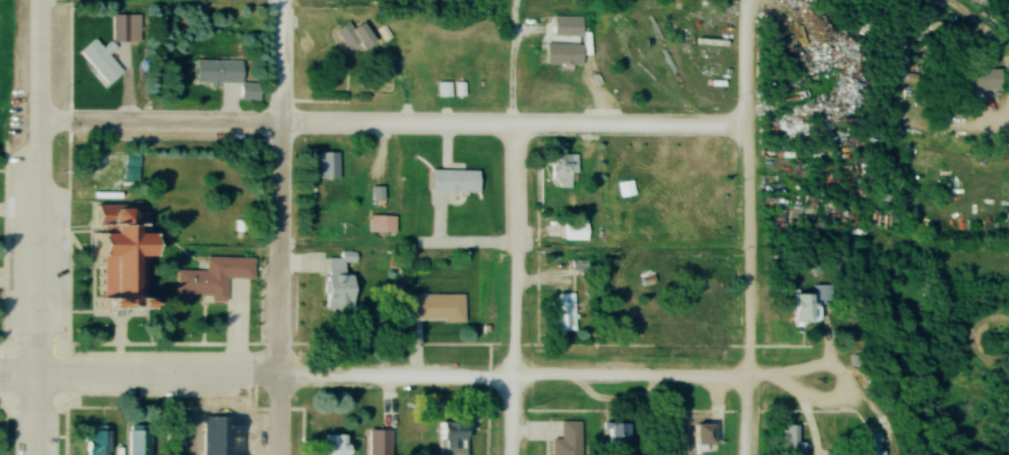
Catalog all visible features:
building: (111, 46)
building: (563, 54)
road: (746, 62)
building: (223, 76)
building: (388, 78)
building: (978, 80)
road: (391, 124)
road: (1005, 136)
building: (326, 166)
building: (560, 172)
building: (453, 181)
building: (384, 224)
road: (36, 227)
road: (278, 227)
building: (565, 231)
road: (630, 254)
building: (124, 255)
building: (211, 278)
building: (339, 283)
road: (747, 289)
road: (512, 290)
building: (809, 304)
building: (434, 308)
building: (563, 312)
building: (625, 313)
building: (700, 316)
road: (429, 378)
road: (17, 381)
building: (706, 433)
building: (227, 435)
building: (616, 435)
building: (451, 438)
building: (567, 439)
building: (95, 440)
building: (137, 440)
building: (788, 440)
building: (378, 442)
building: (335, 444)
building: (869, 446)

